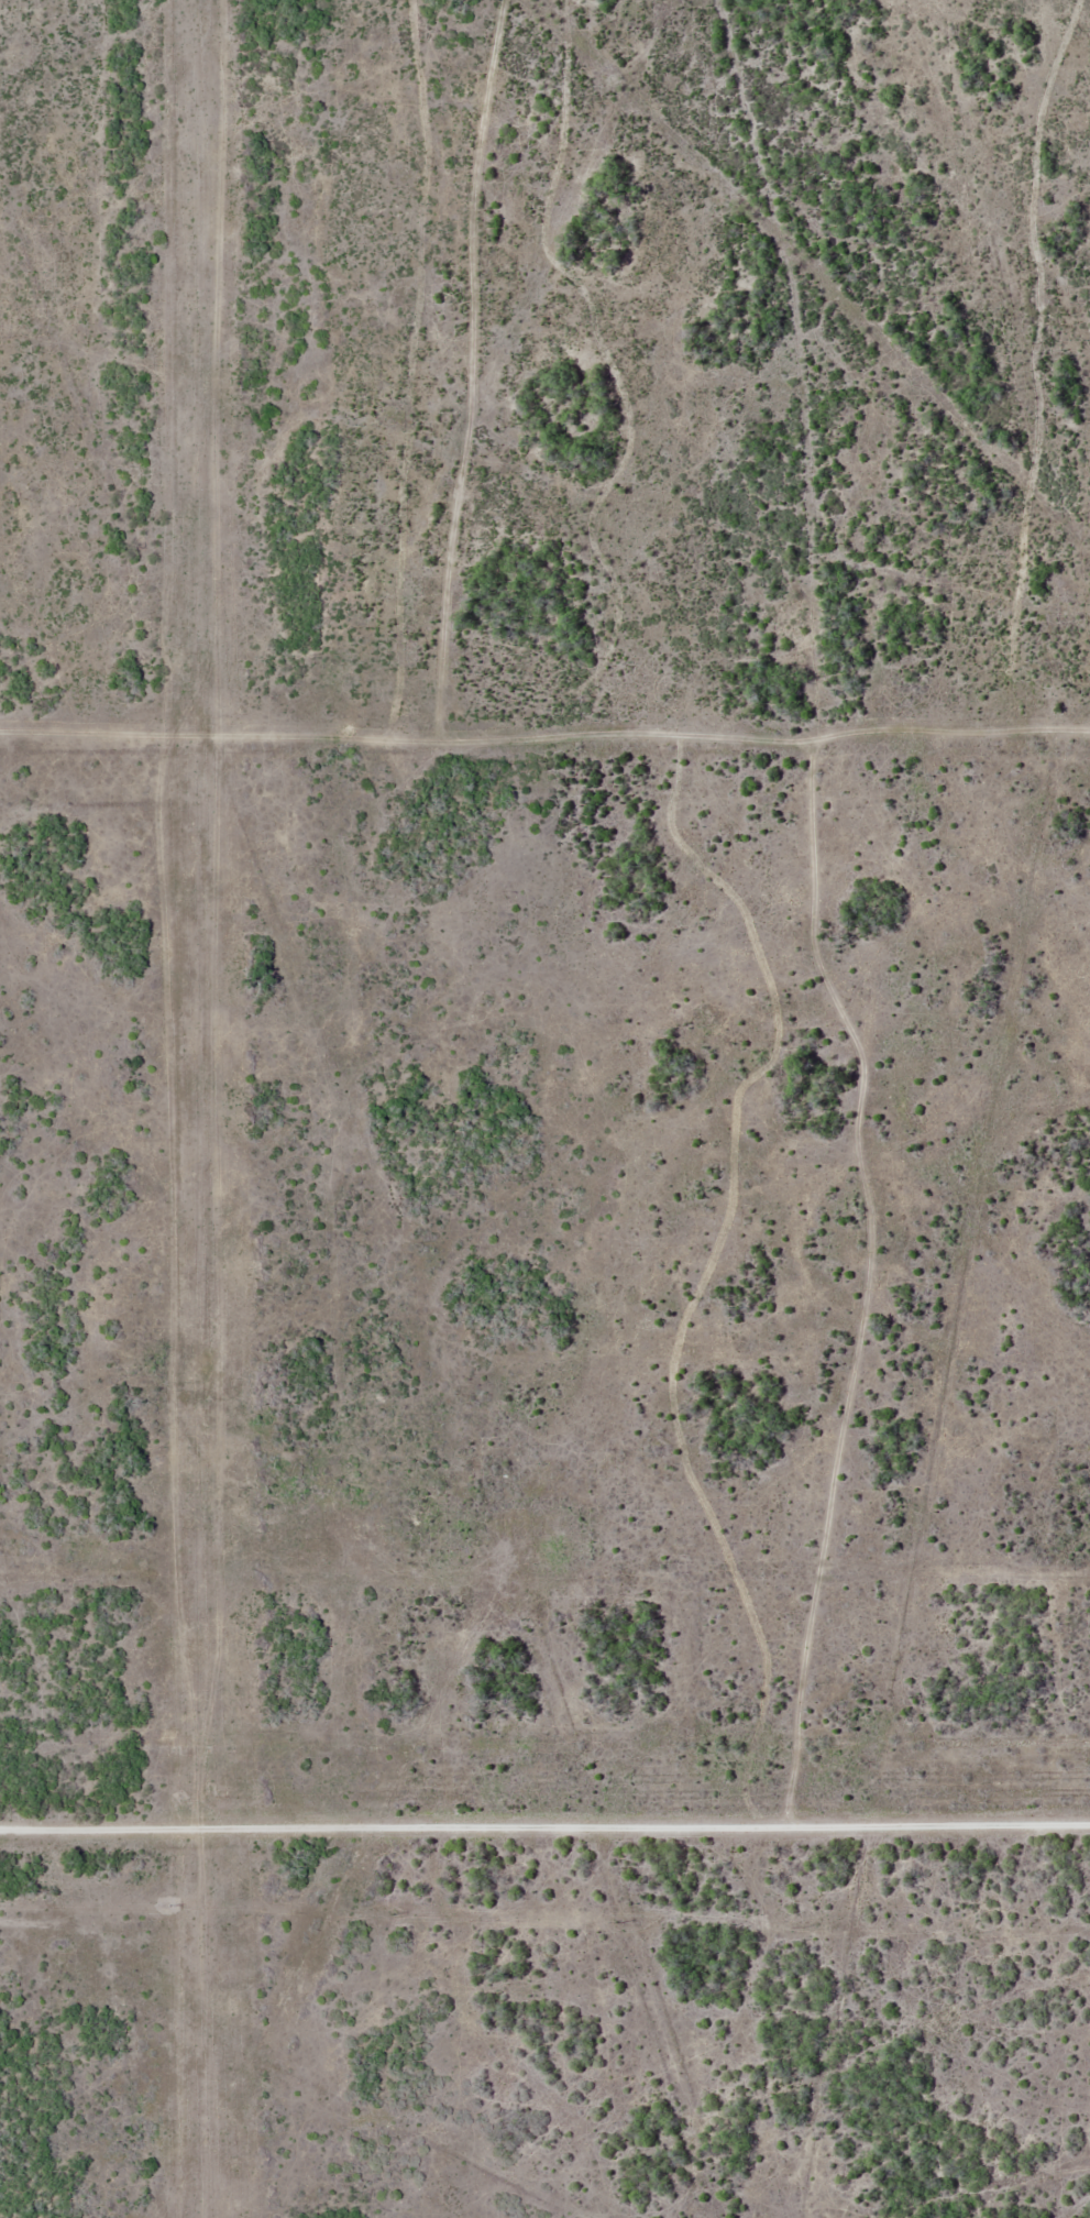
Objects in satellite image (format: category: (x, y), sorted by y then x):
road: (544, 1827)

